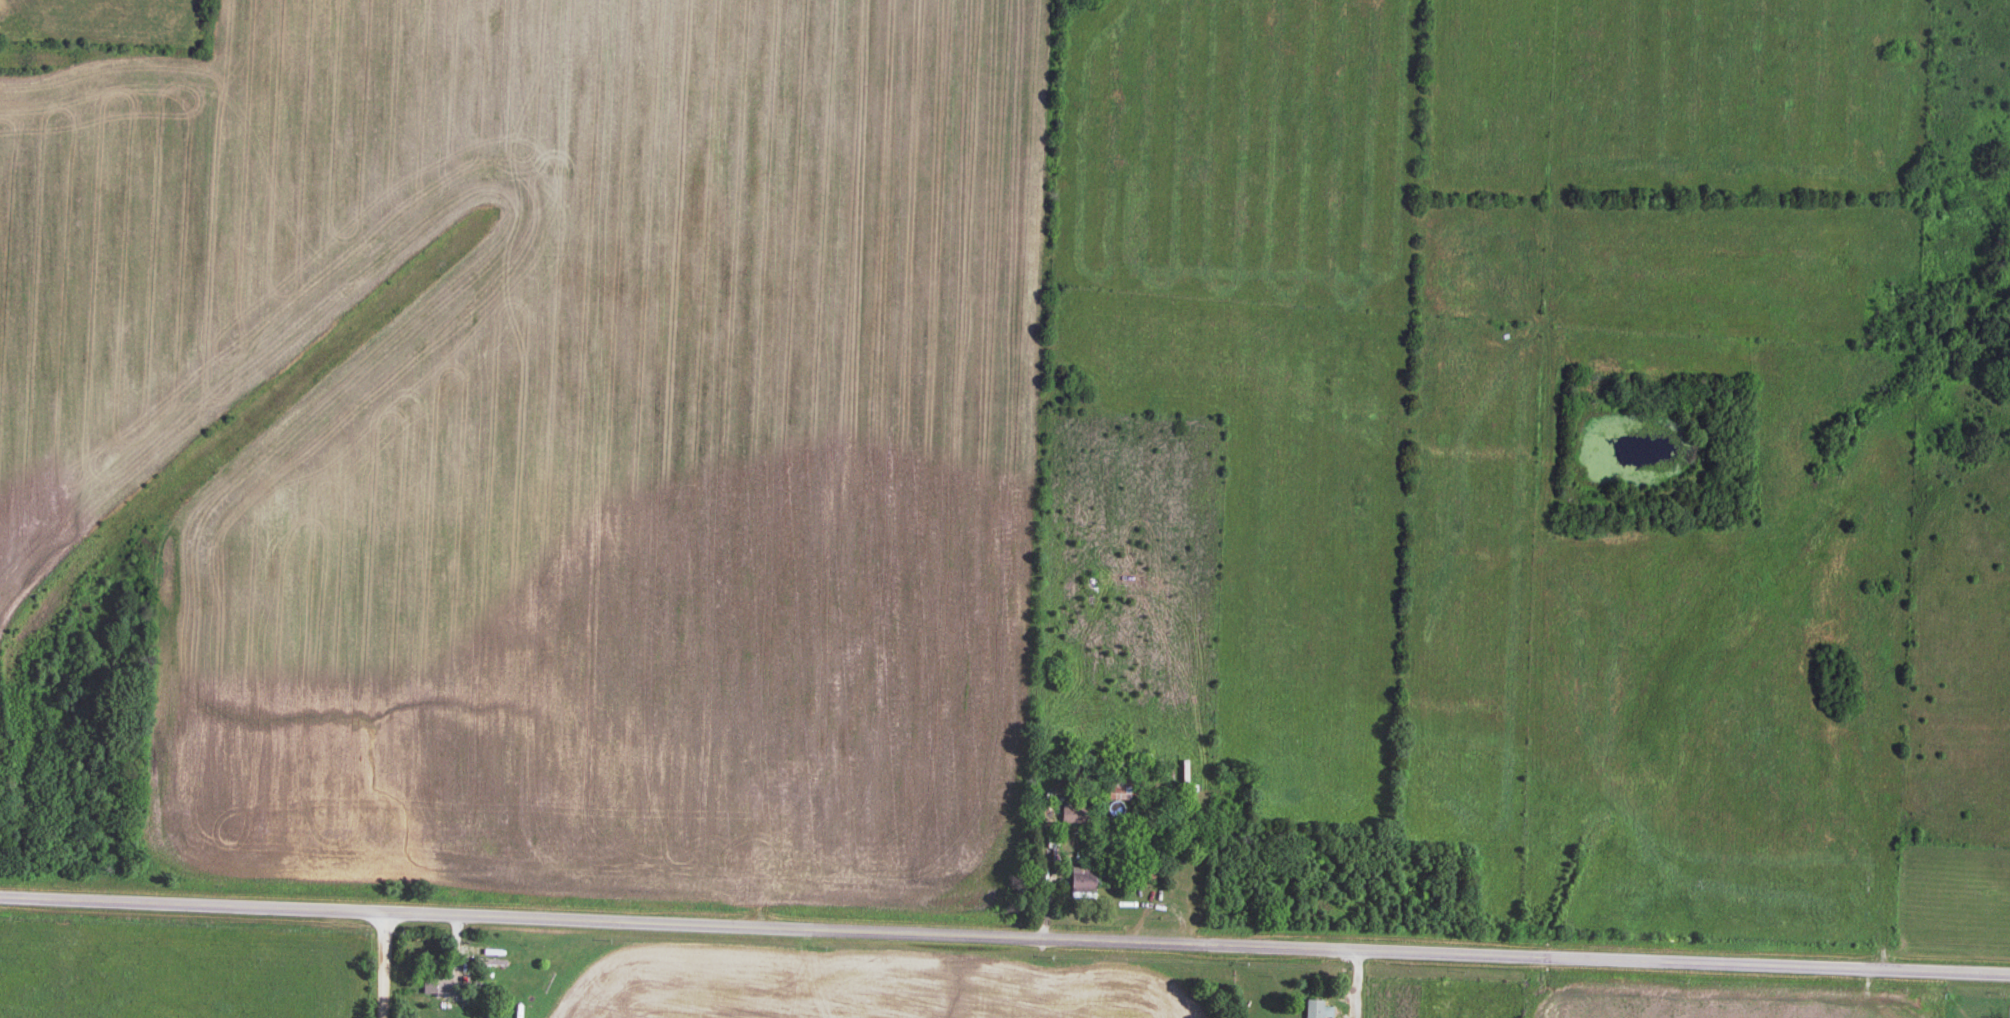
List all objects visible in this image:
building: (1124, 785)
building: (1074, 811)
building: (1083, 880)
road: (1045, 881)
road: (1004, 940)
road: (382, 966)
road: (1358, 985)
building: (1318, 1007)

